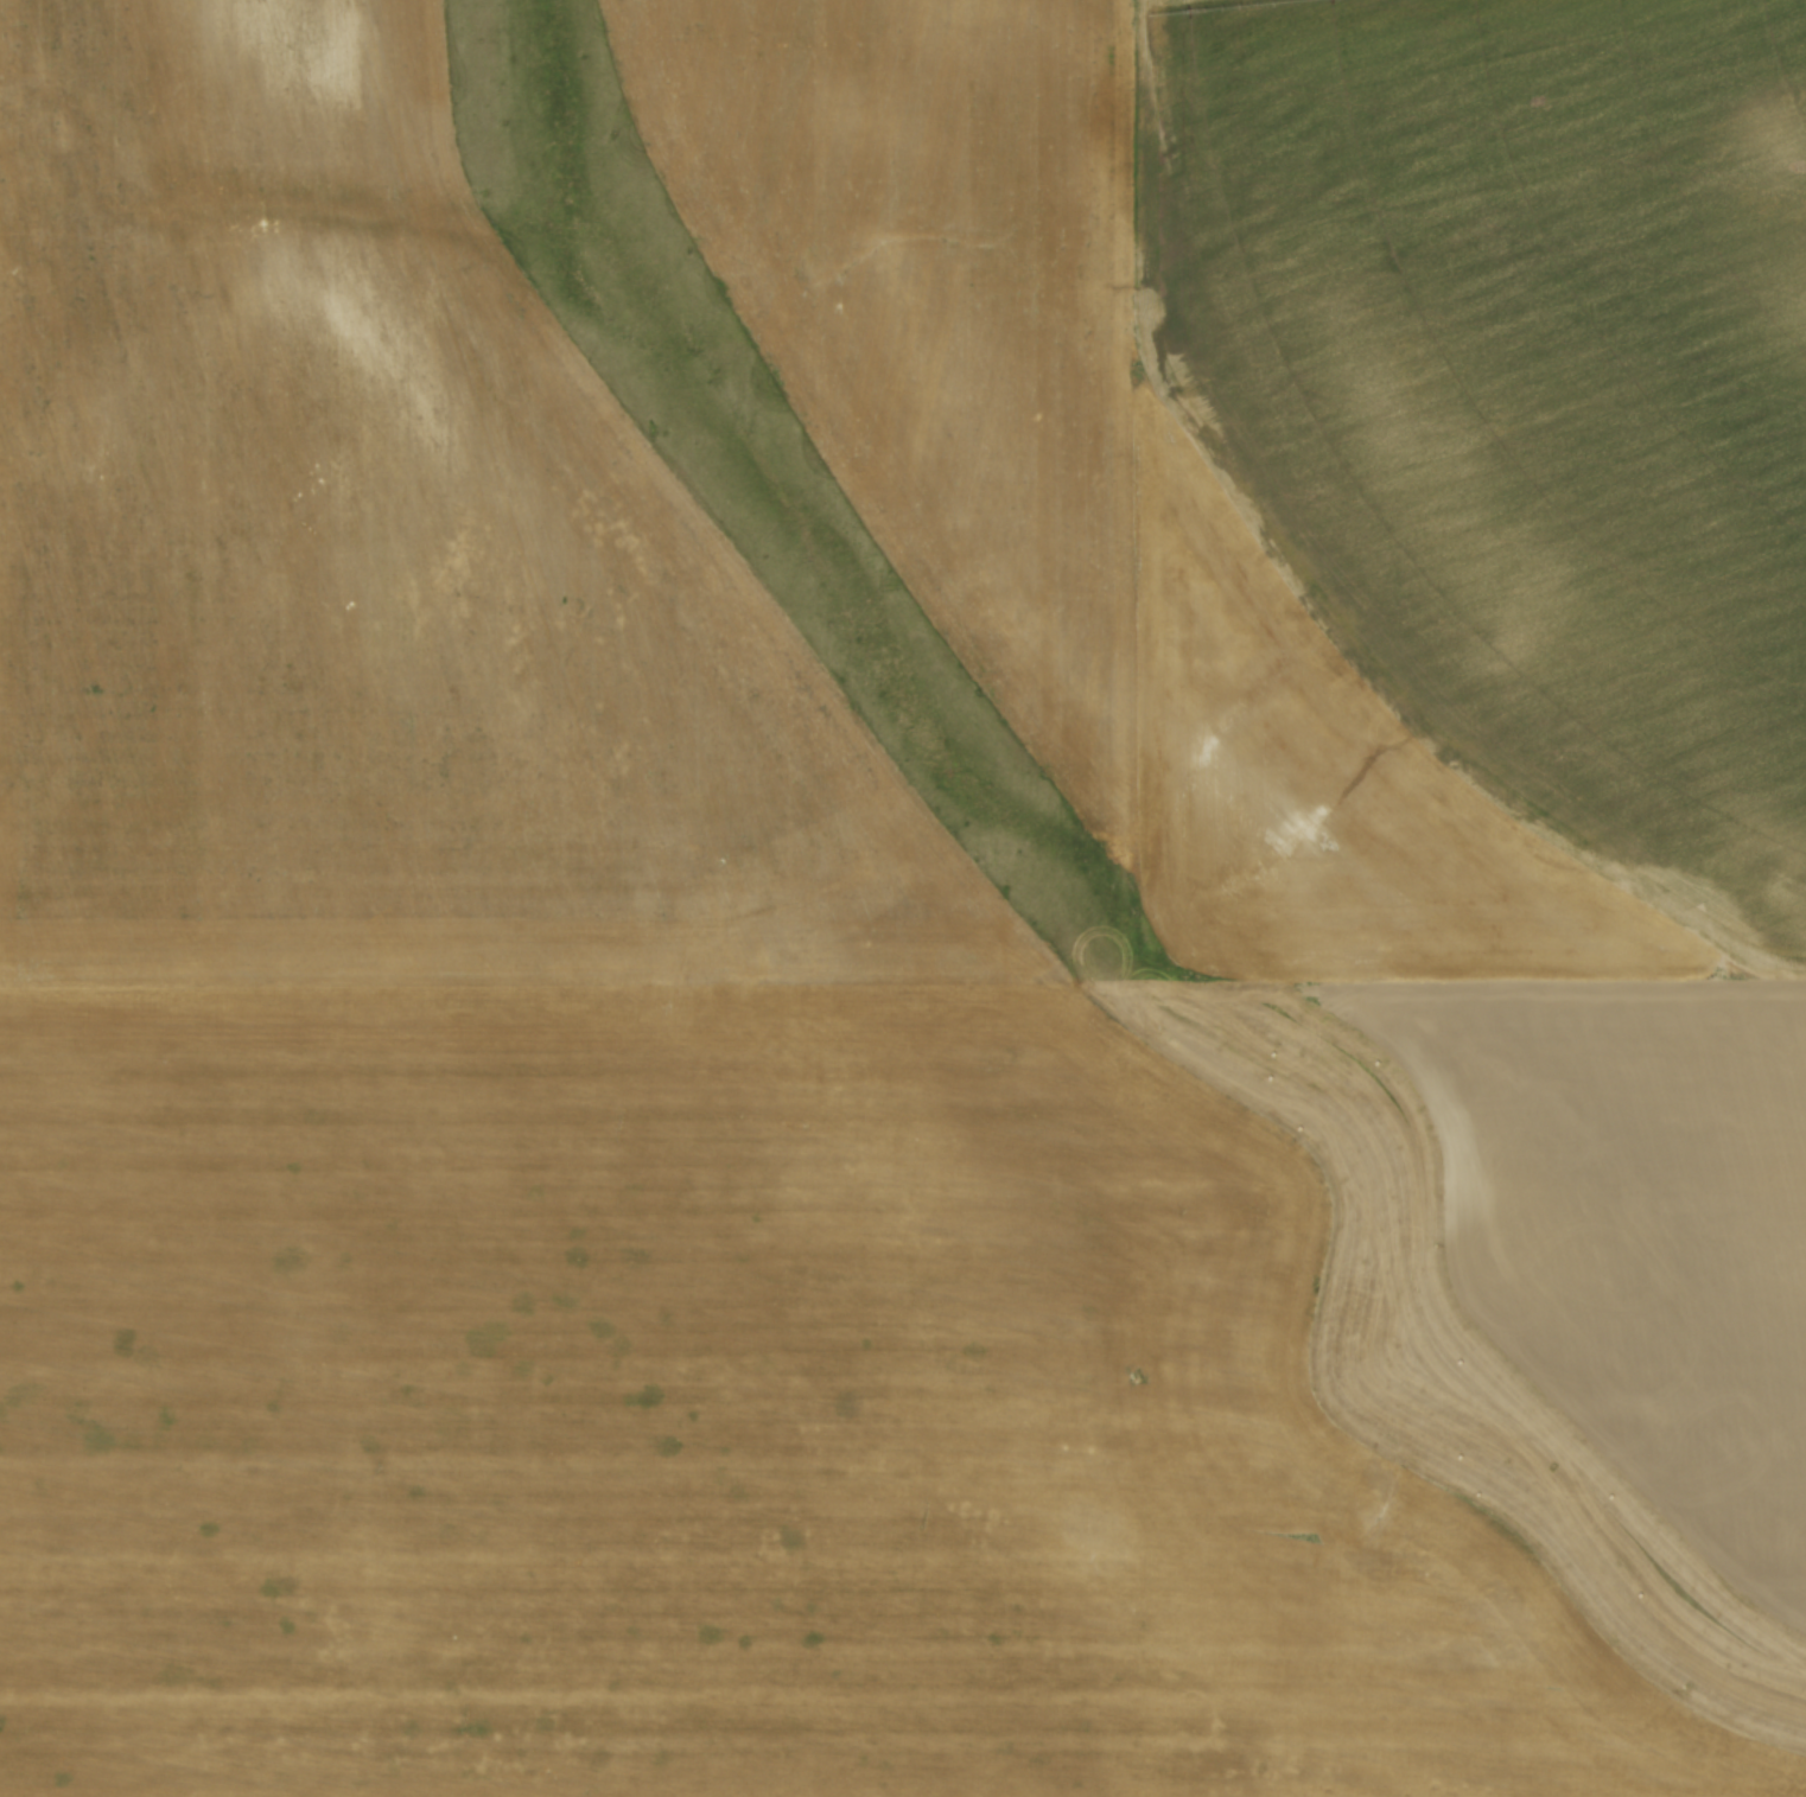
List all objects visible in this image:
crop: (1371, 568)
crop: (594, 1101)

